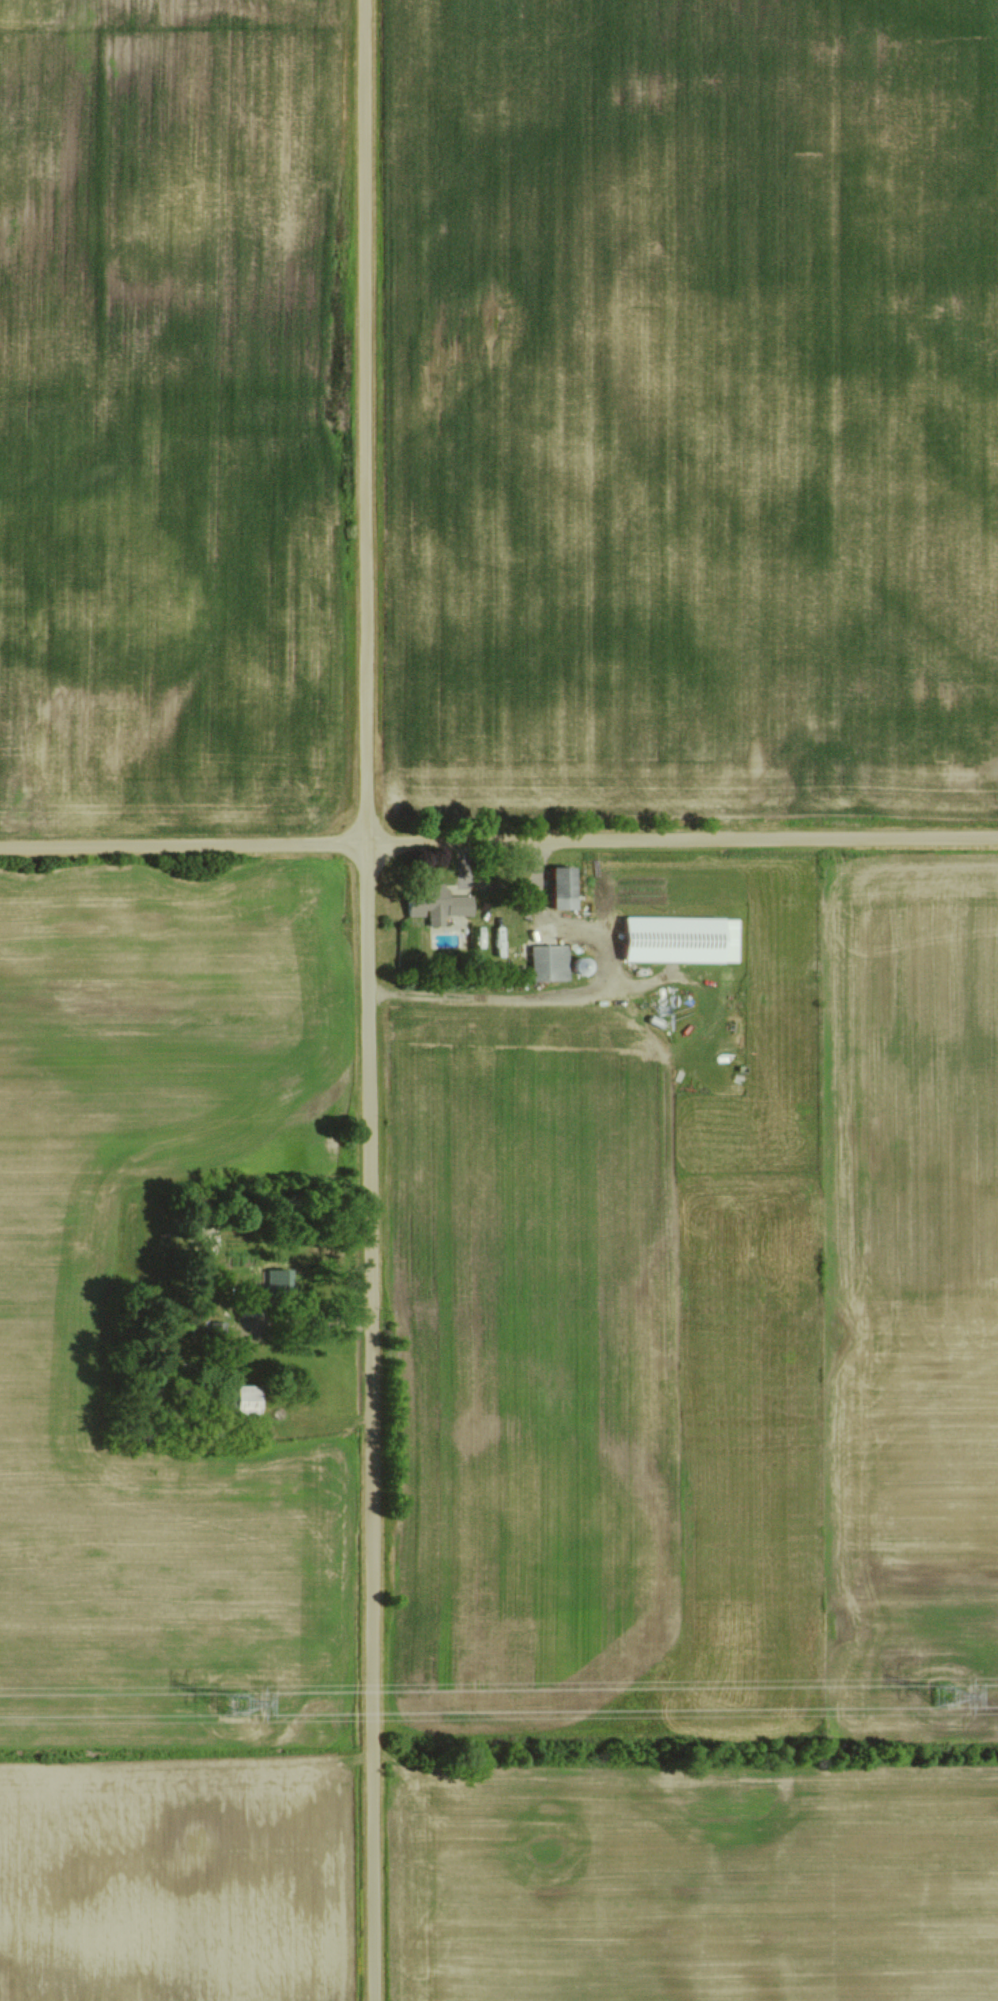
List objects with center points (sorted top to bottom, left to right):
road: (499, 844)
building: (556, 888)
building: (434, 904)
building: (674, 939)
building: (545, 962)
road: (370, 1000)
building: (272, 1277)
building: (215, 1331)
building: (237, 1399)
power tower: (949, 1691)
power tower: (236, 1704)

